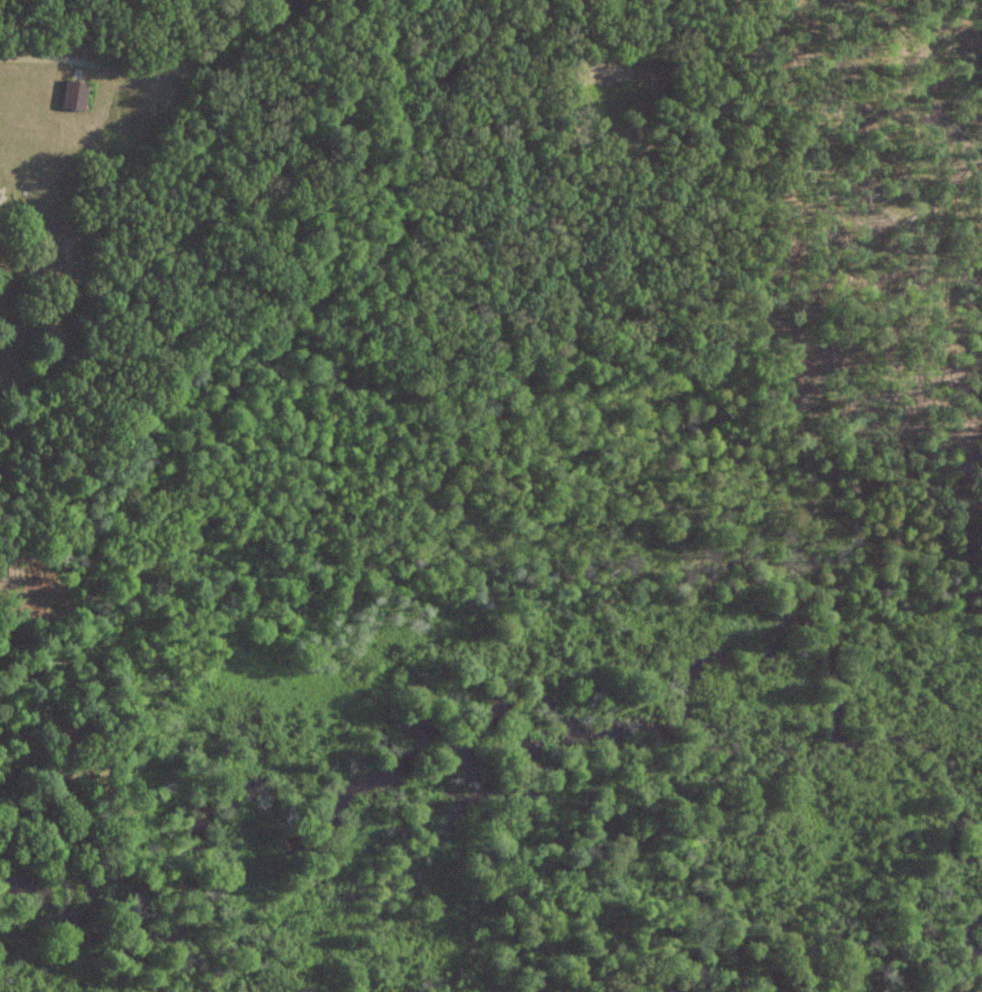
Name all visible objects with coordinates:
building: (278, 4)
road: (44, 59)
building: (78, 96)

